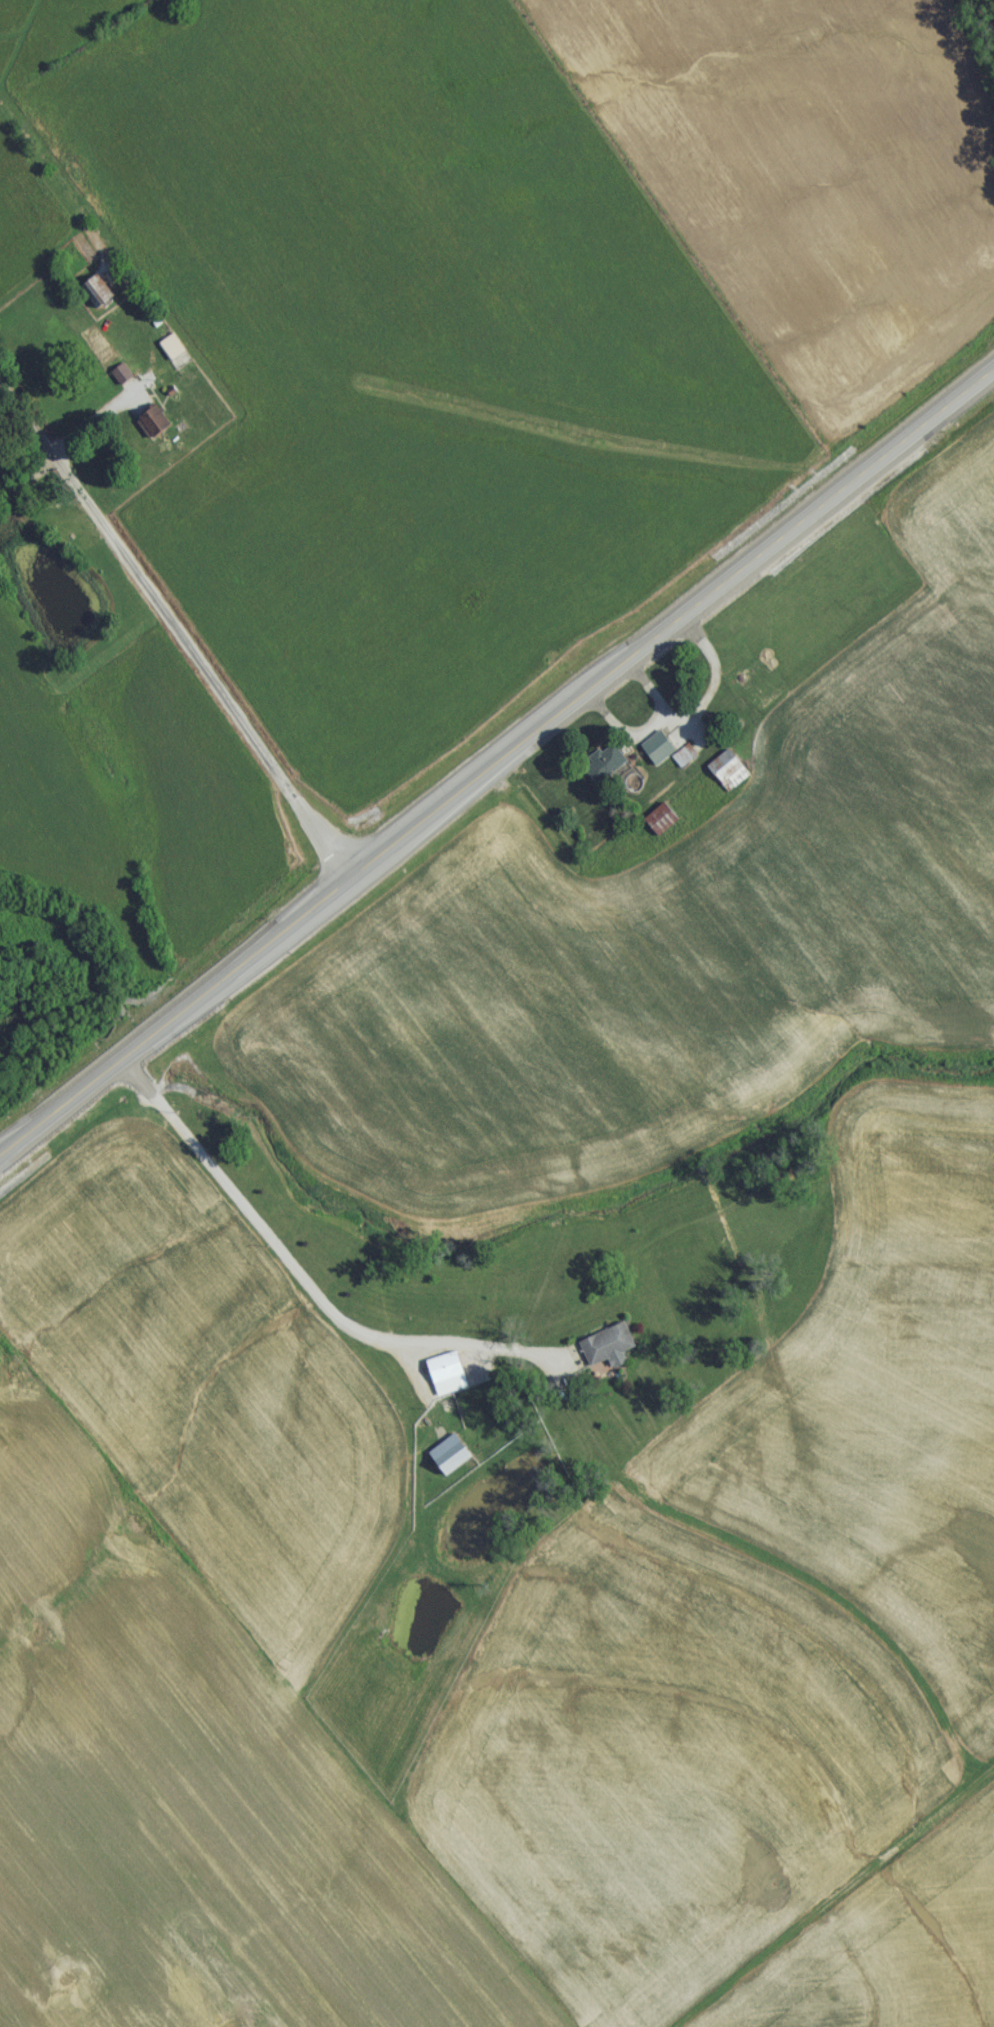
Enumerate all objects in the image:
building: (93, 296)
building: (168, 353)
building: (118, 380)
road: (94, 421)
building: (148, 428)
road: (177, 626)
building: (746, 680)
building: (653, 755)
building: (681, 762)
road: (497, 763)
building: (600, 768)
building: (725, 777)
building: (657, 826)
road: (288, 1261)
building: (601, 1353)
road: (539, 1354)
building: (442, 1380)
building: (445, 1462)

